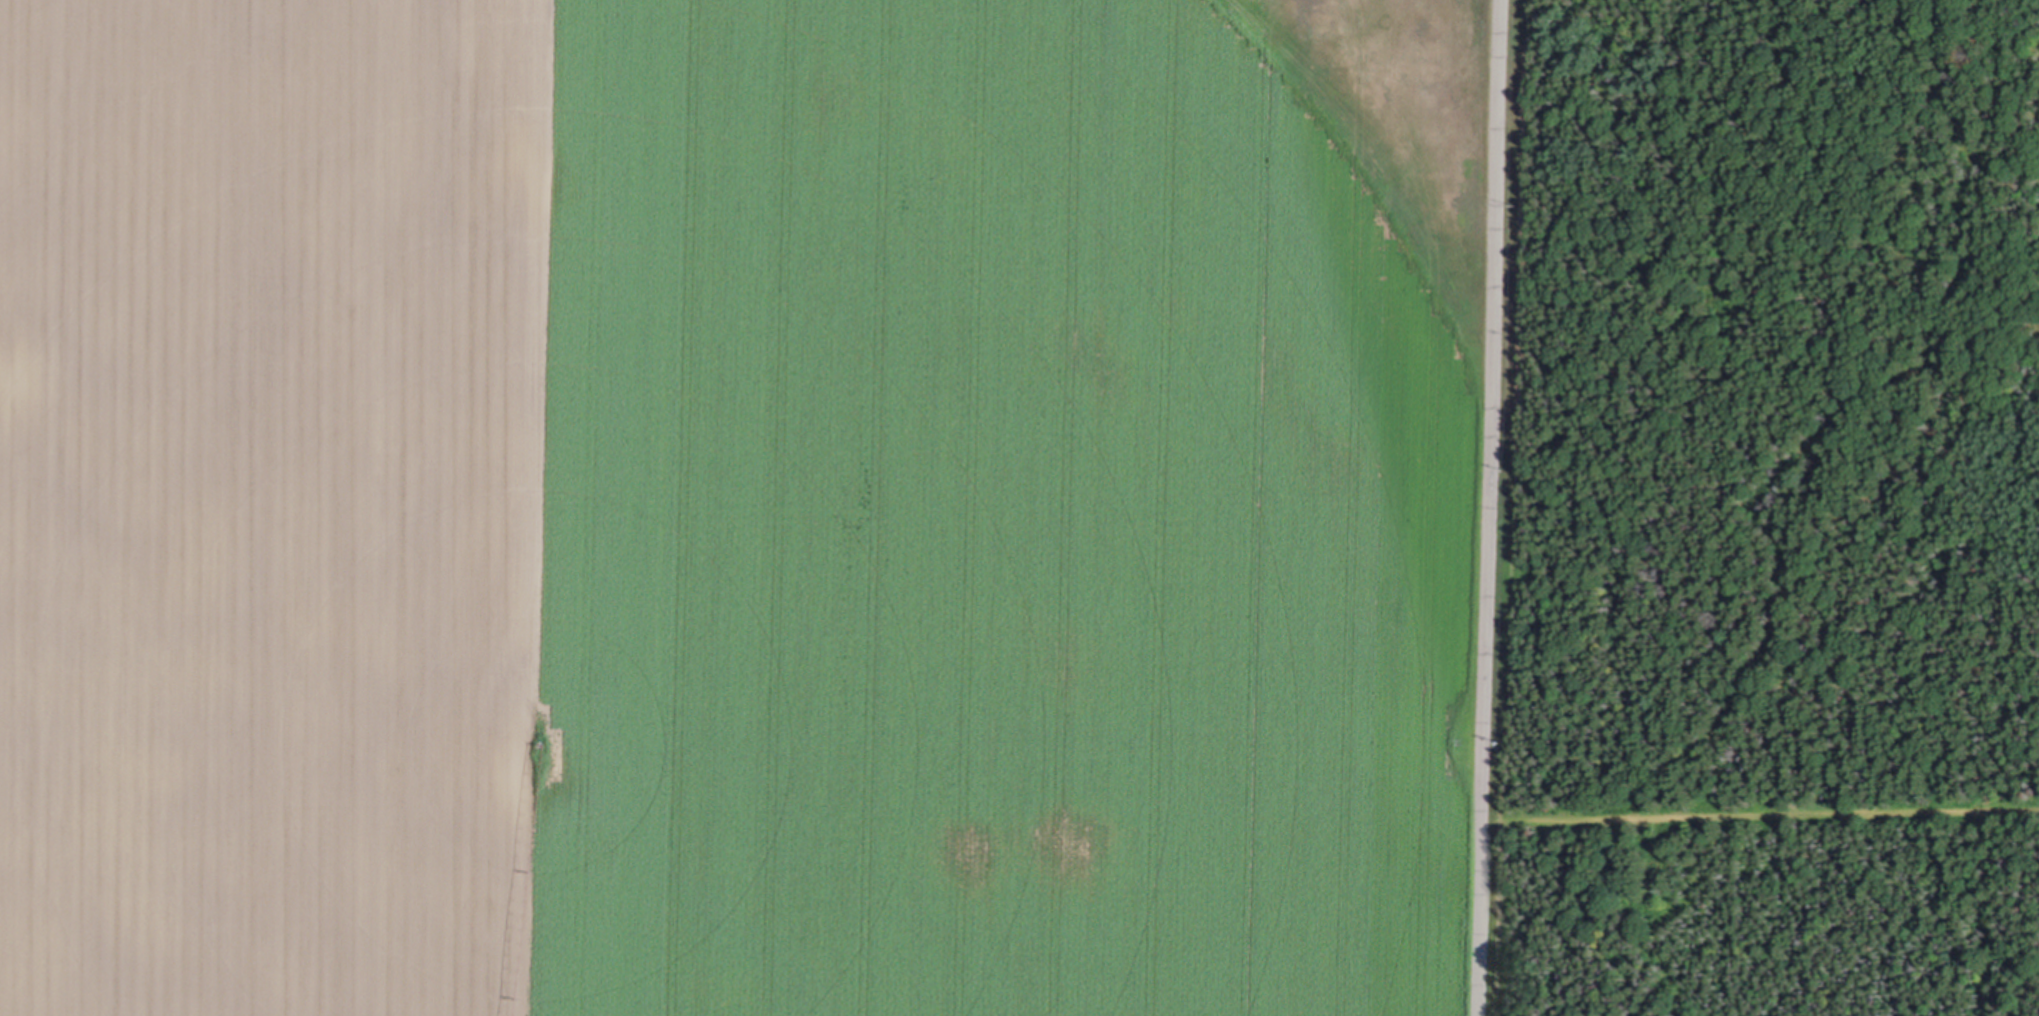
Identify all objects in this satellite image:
crop: (741, 506)
road: (1488, 508)
road: (1515, 508)
road: (1770, 814)

